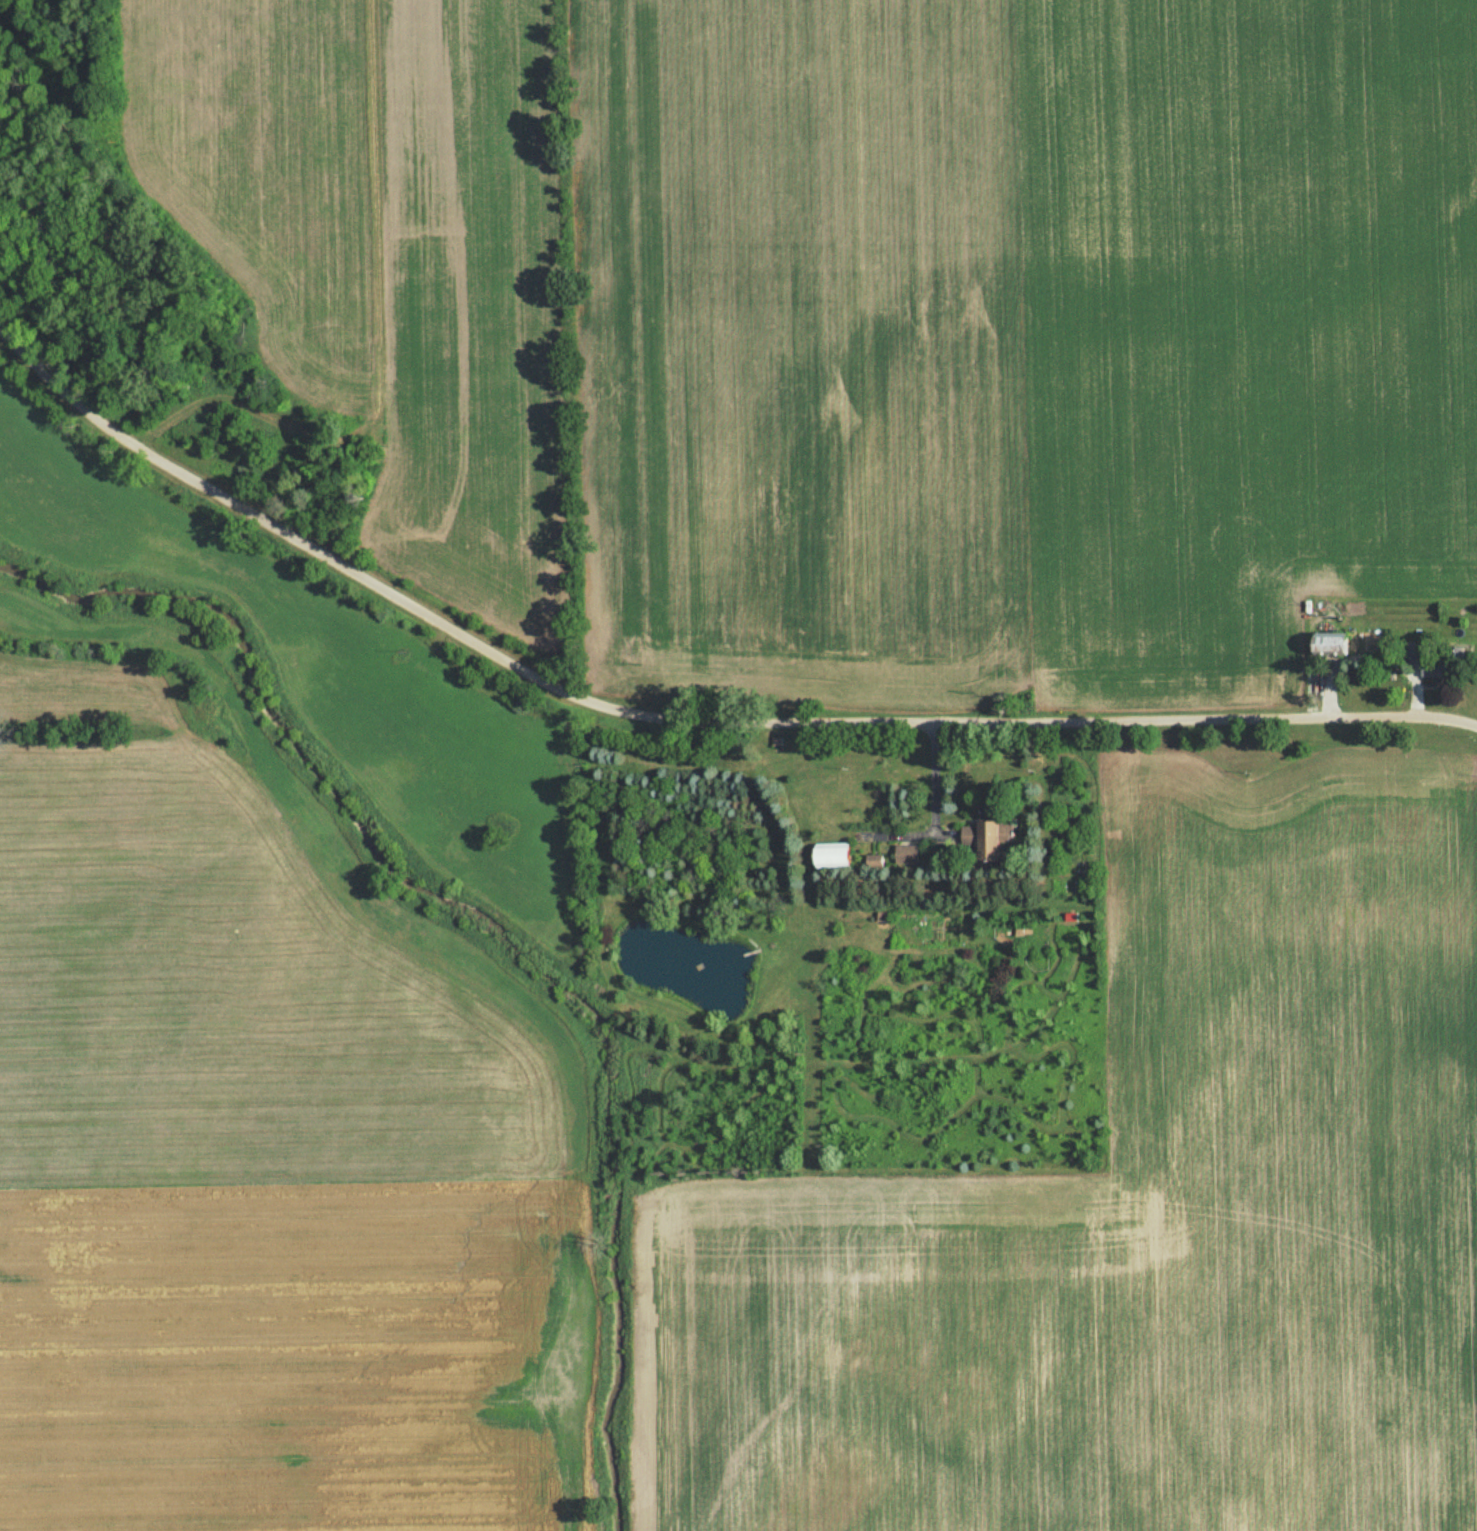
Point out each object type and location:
building: (1428, 670)
road: (681, 715)
road: (929, 777)
building: (979, 839)
building: (828, 855)

